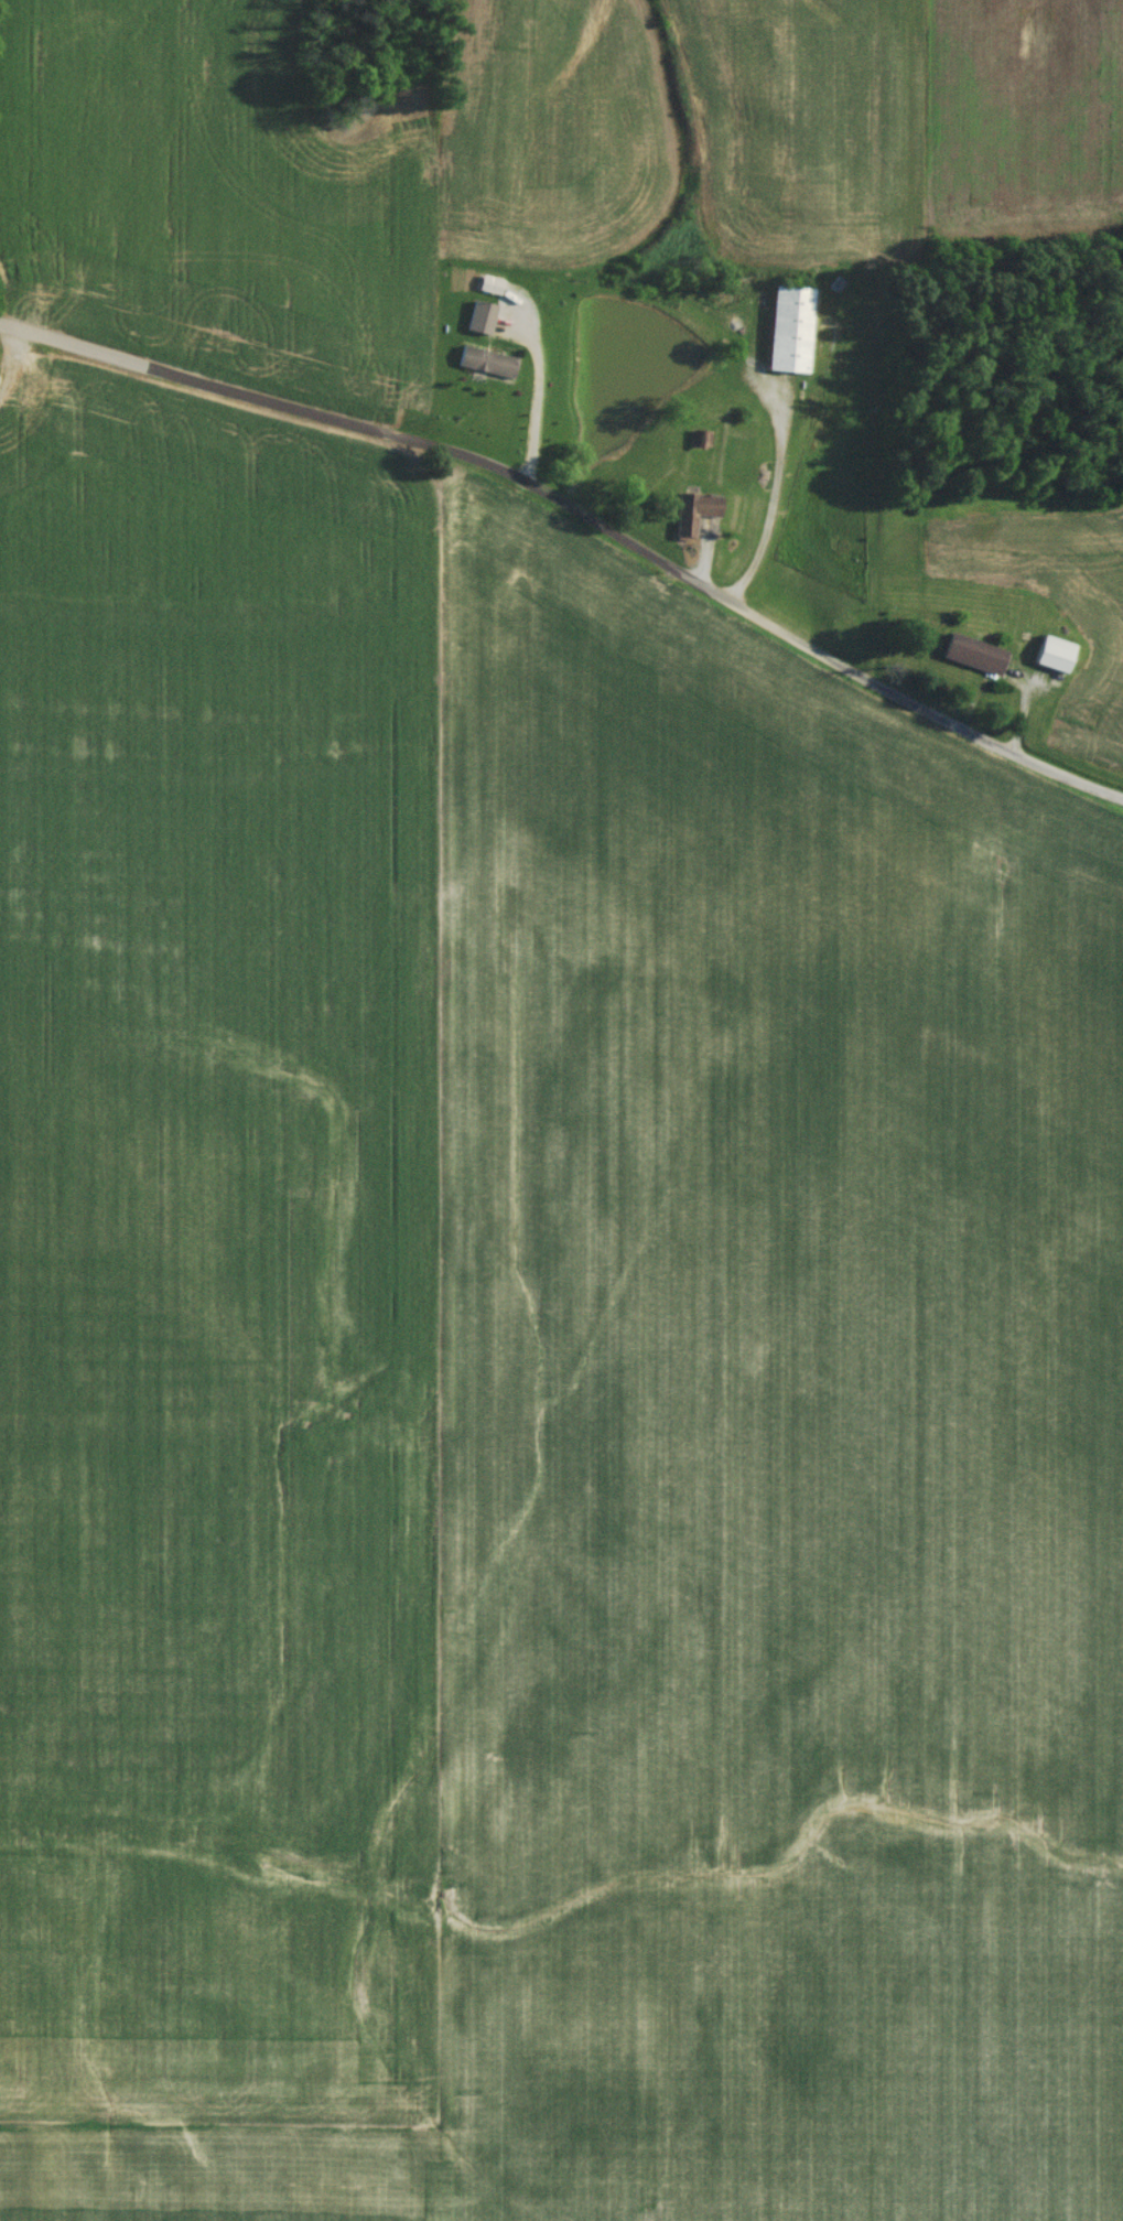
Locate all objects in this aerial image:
building: (476, 323)
building: (785, 334)
building: (482, 367)
road: (537, 385)
road: (582, 506)
building: (689, 517)
building: (969, 658)
building: (1048, 658)

